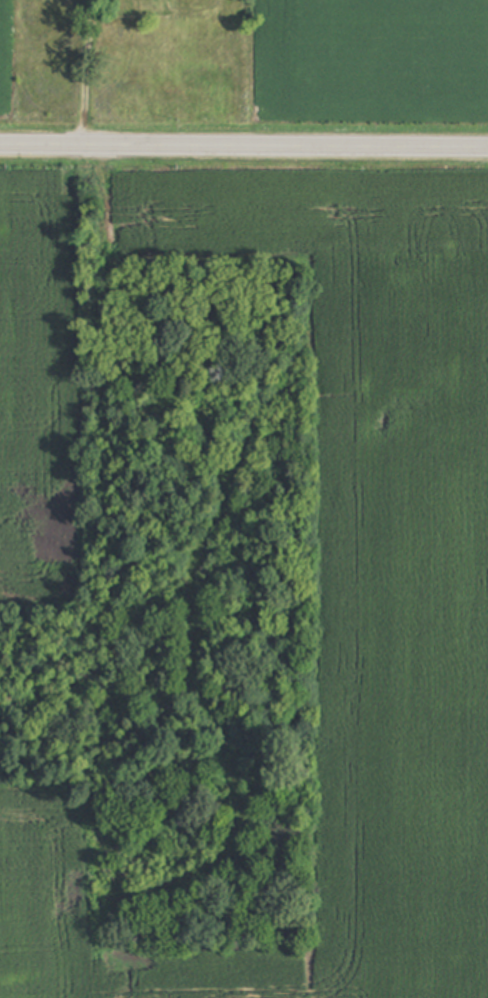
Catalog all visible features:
road: (87, 73)
road: (244, 147)

